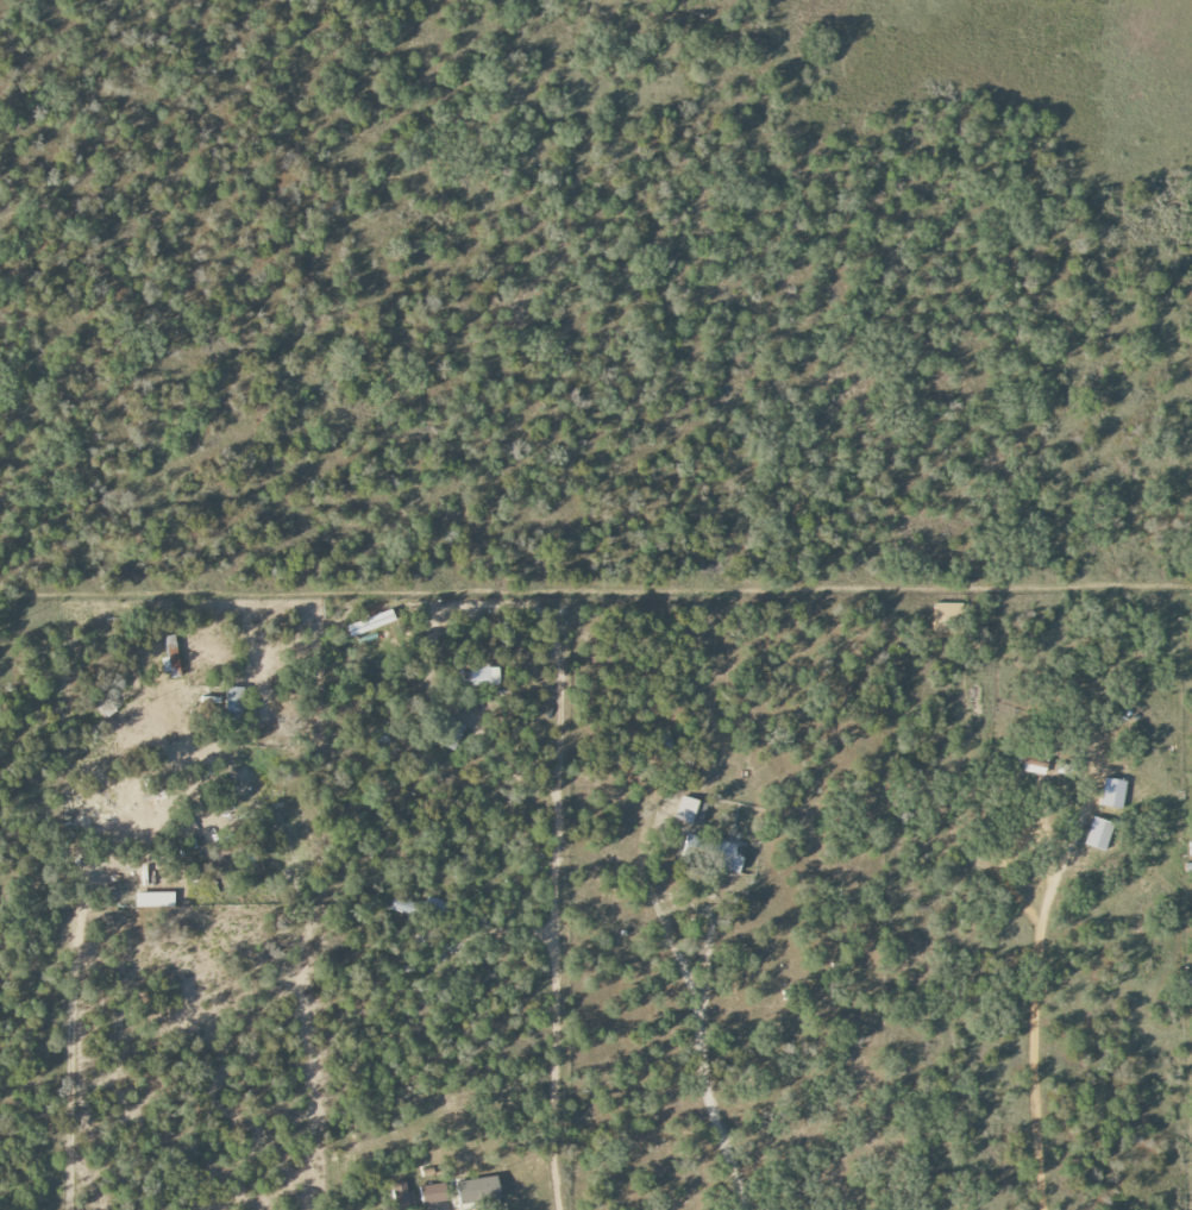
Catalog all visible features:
road: (459, 604)
building: (946, 617)
building: (370, 623)
building: (170, 660)
building: (483, 672)
building: (233, 704)
building: (105, 709)
building: (451, 734)
building: (658, 742)
building: (1033, 769)
building: (158, 786)
building: (1112, 792)
building: (689, 810)
building: (1098, 834)
building: (691, 842)
building: (1191, 849)
building: (726, 858)
building: (153, 899)
building: (402, 907)
building: (434, 909)
road: (554, 1003)
road: (691, 1030)
road: (1033, 1045)
road: (65, 1061)
building: (477, 1191)
building: (431, 1193)
building: (402, 1197)

